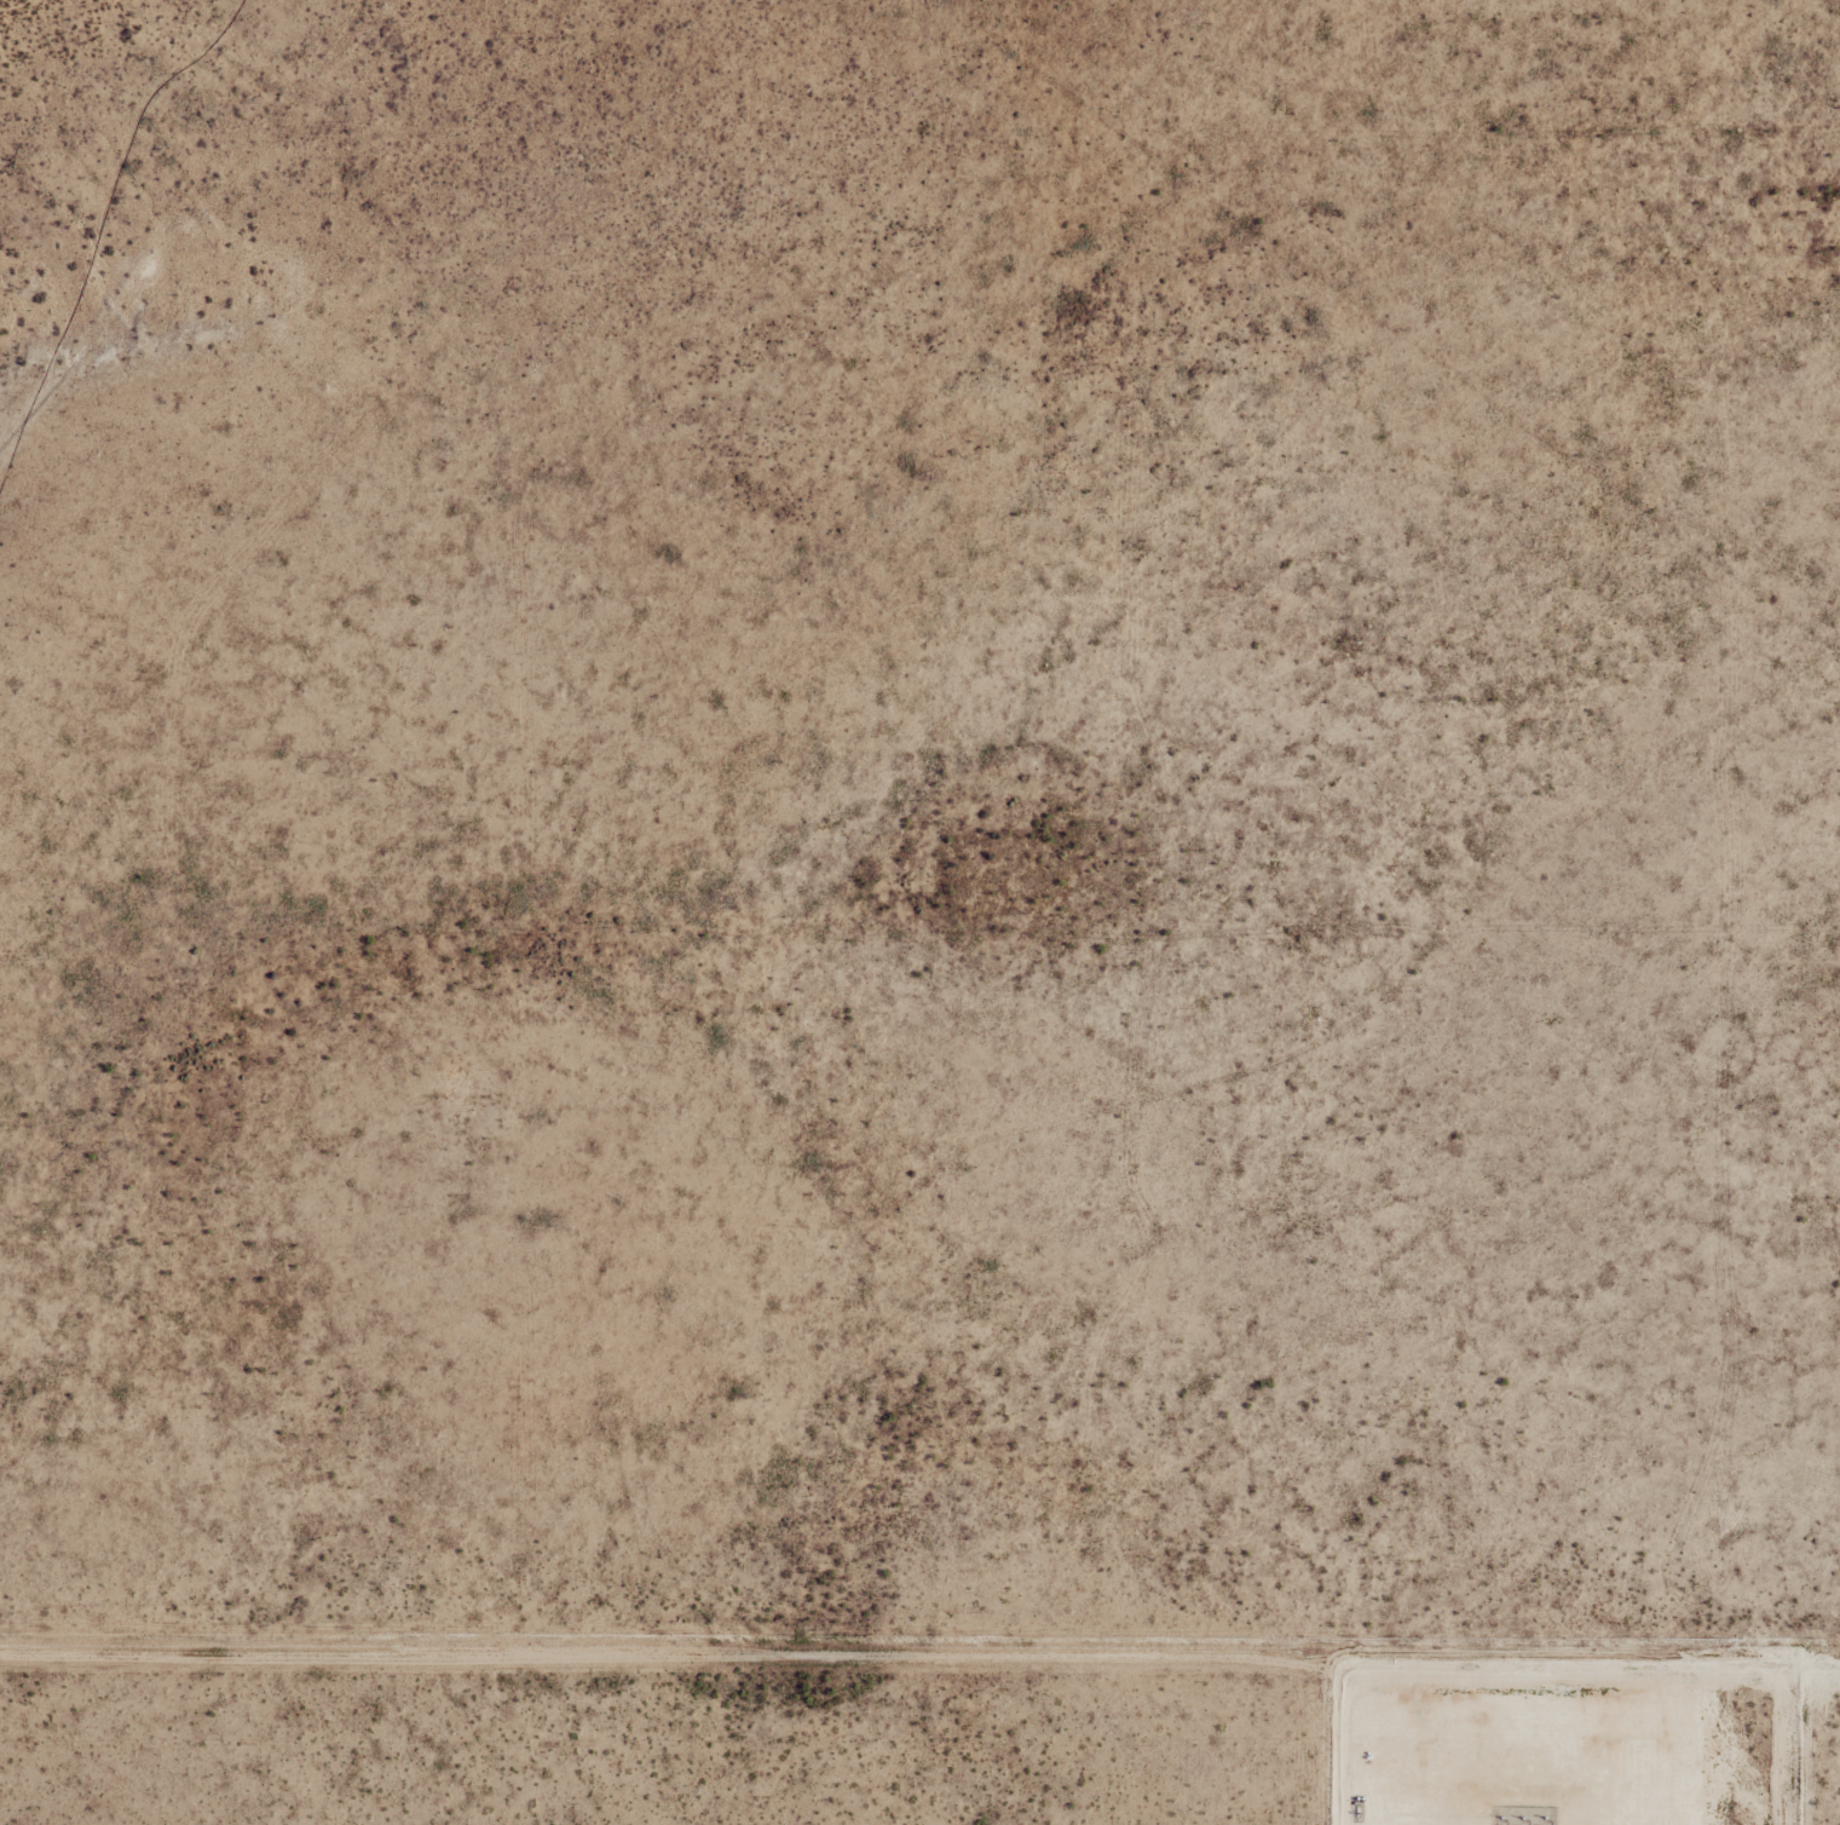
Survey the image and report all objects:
road: (1524, 1757)

